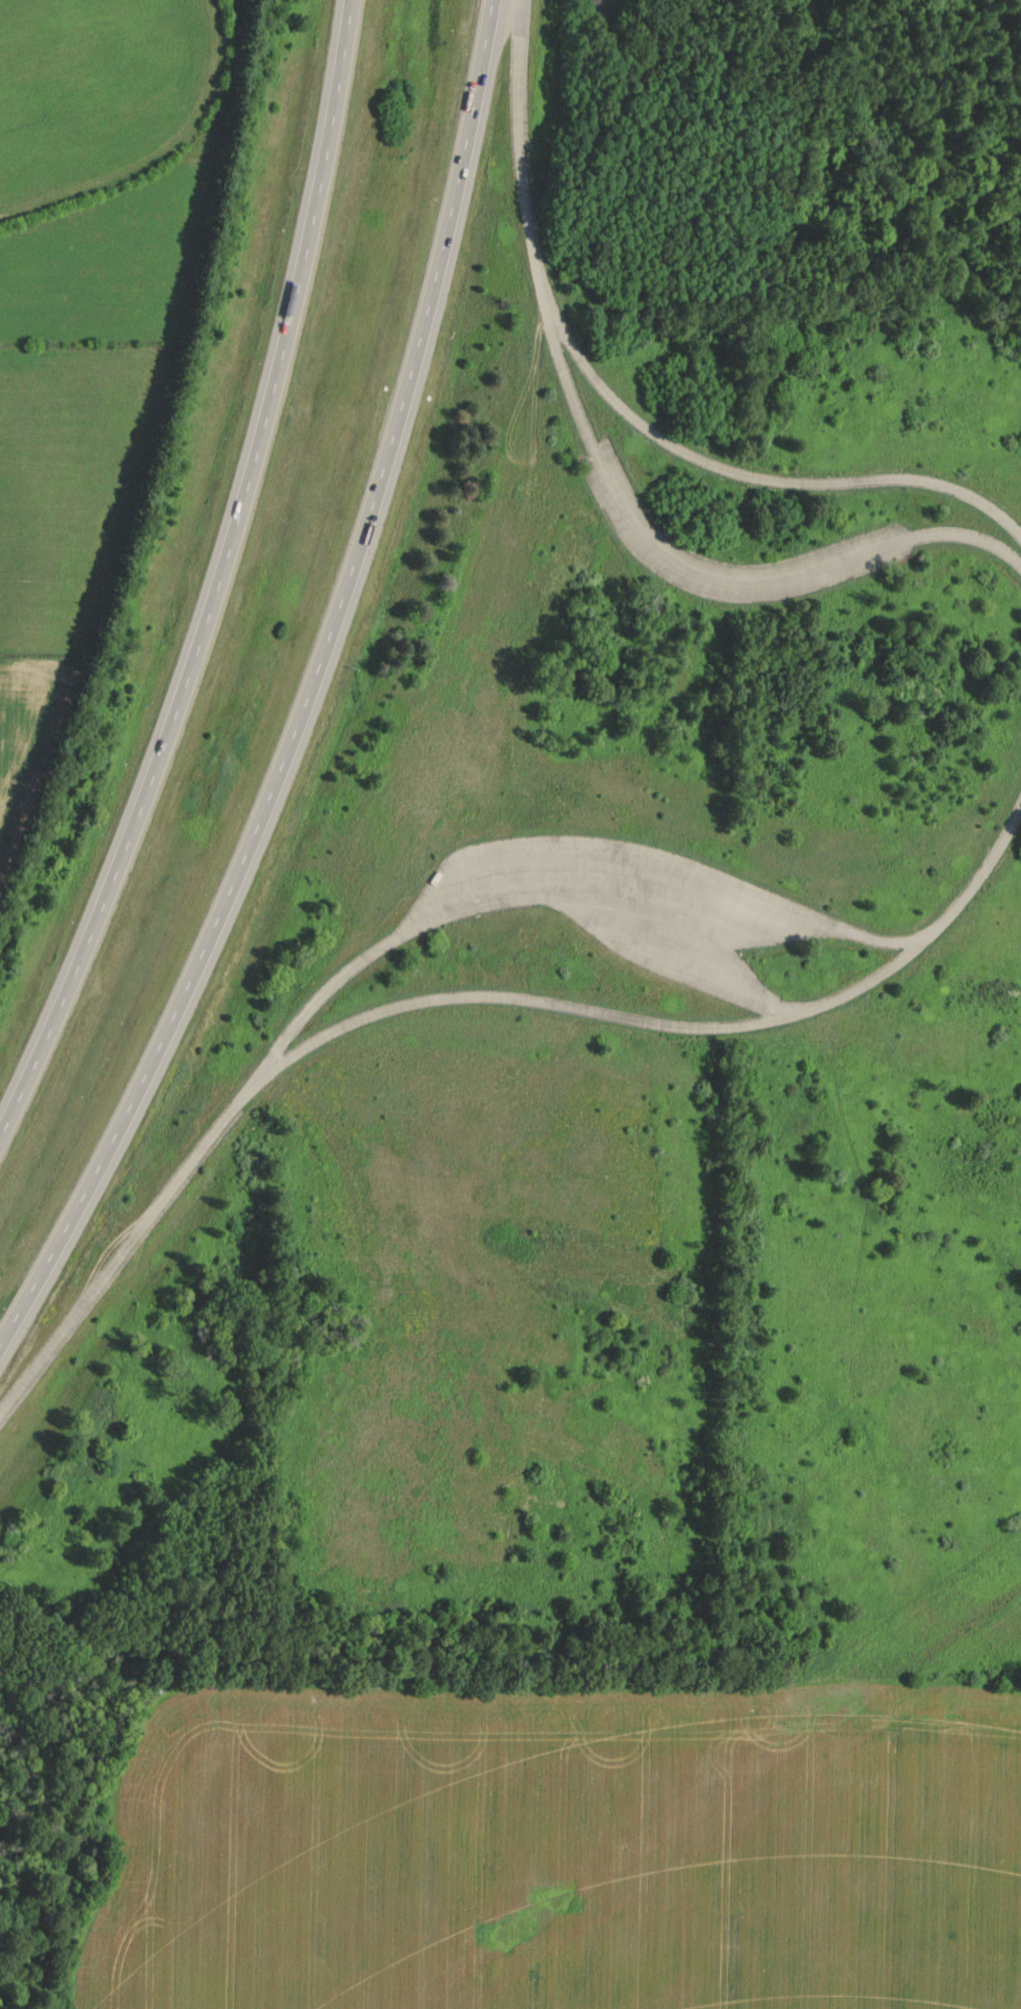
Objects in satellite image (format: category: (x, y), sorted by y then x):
road: (522, 149)
road: (753, 475)
road: (708, 566)
road: (220, 584)
road: (309, 695)
road: (563, 888)
road: (673, 1024)
road: (160, 1205)
road: (32, 1377)

